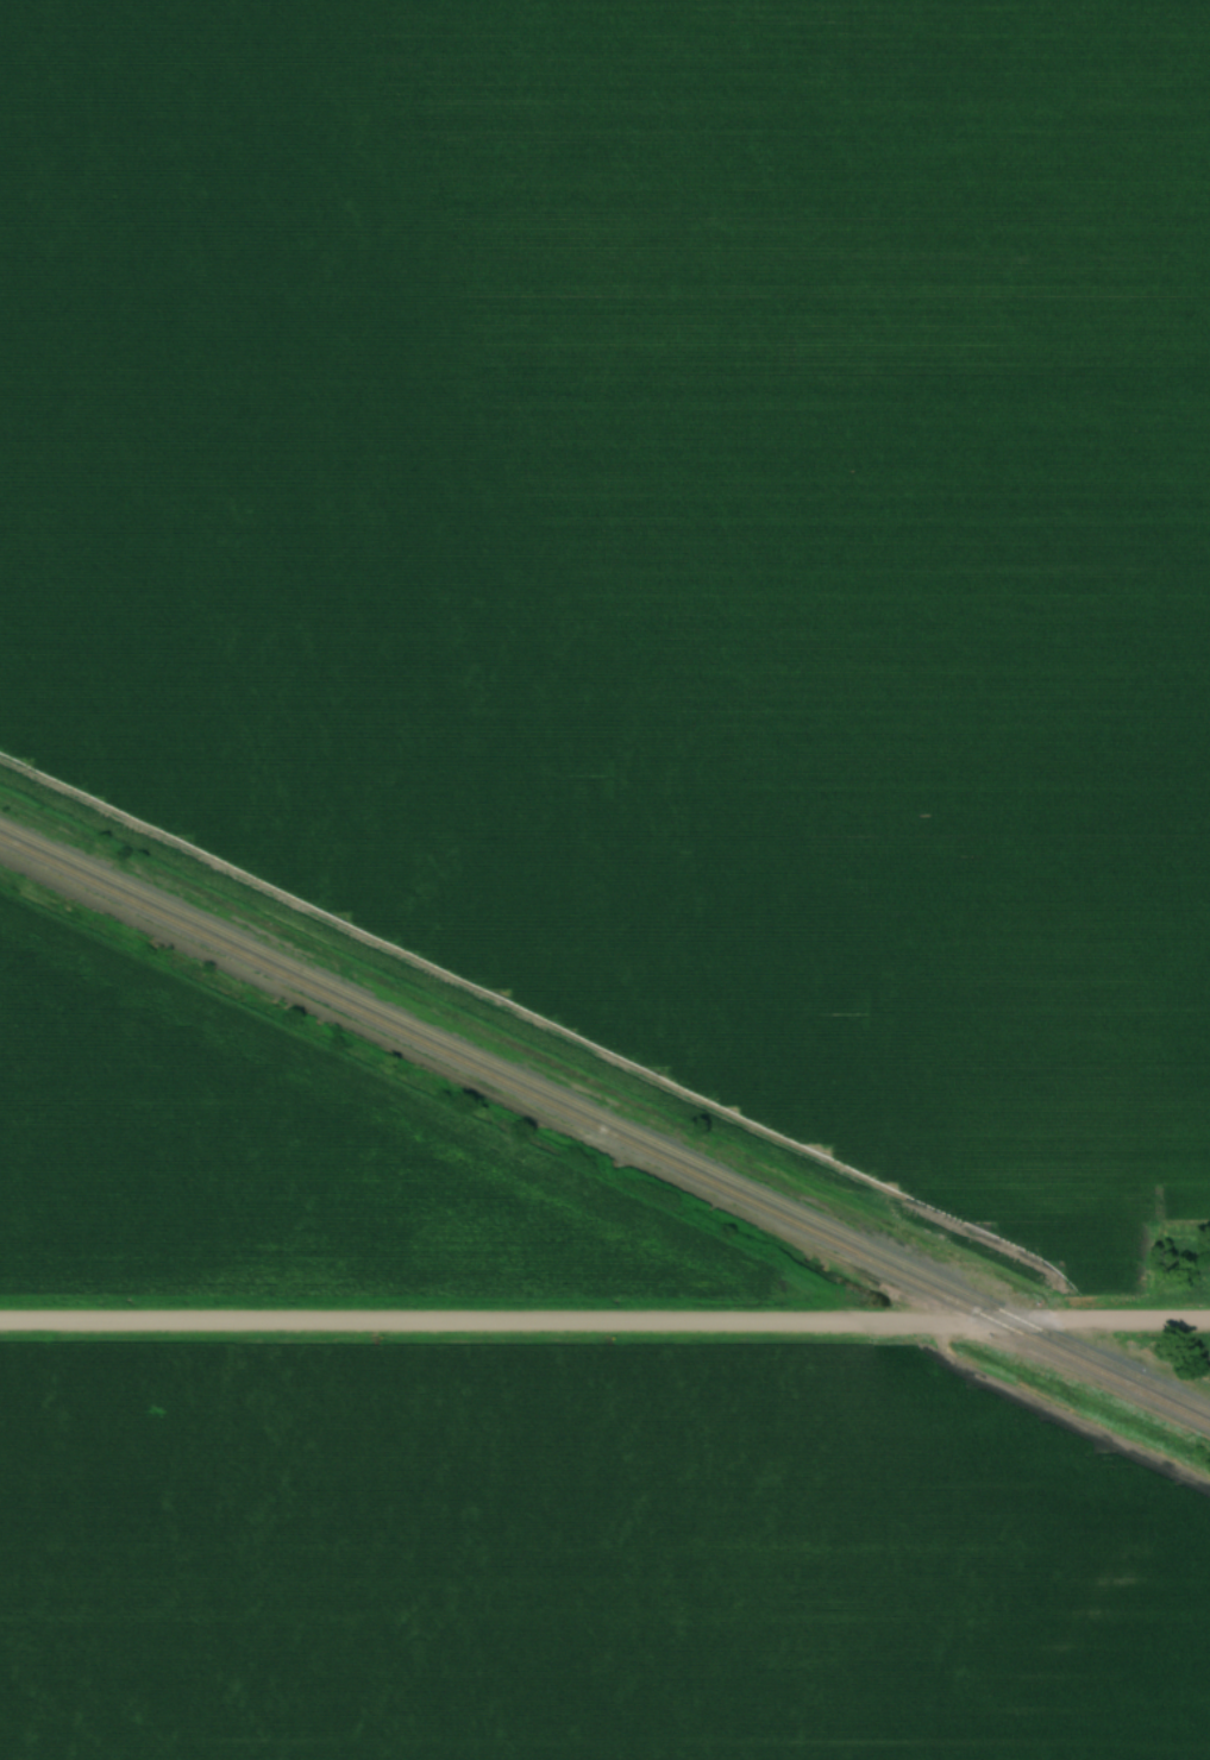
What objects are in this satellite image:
railway: (604, 1119)
railway: (604, 1133)
road: (604, 1324)

